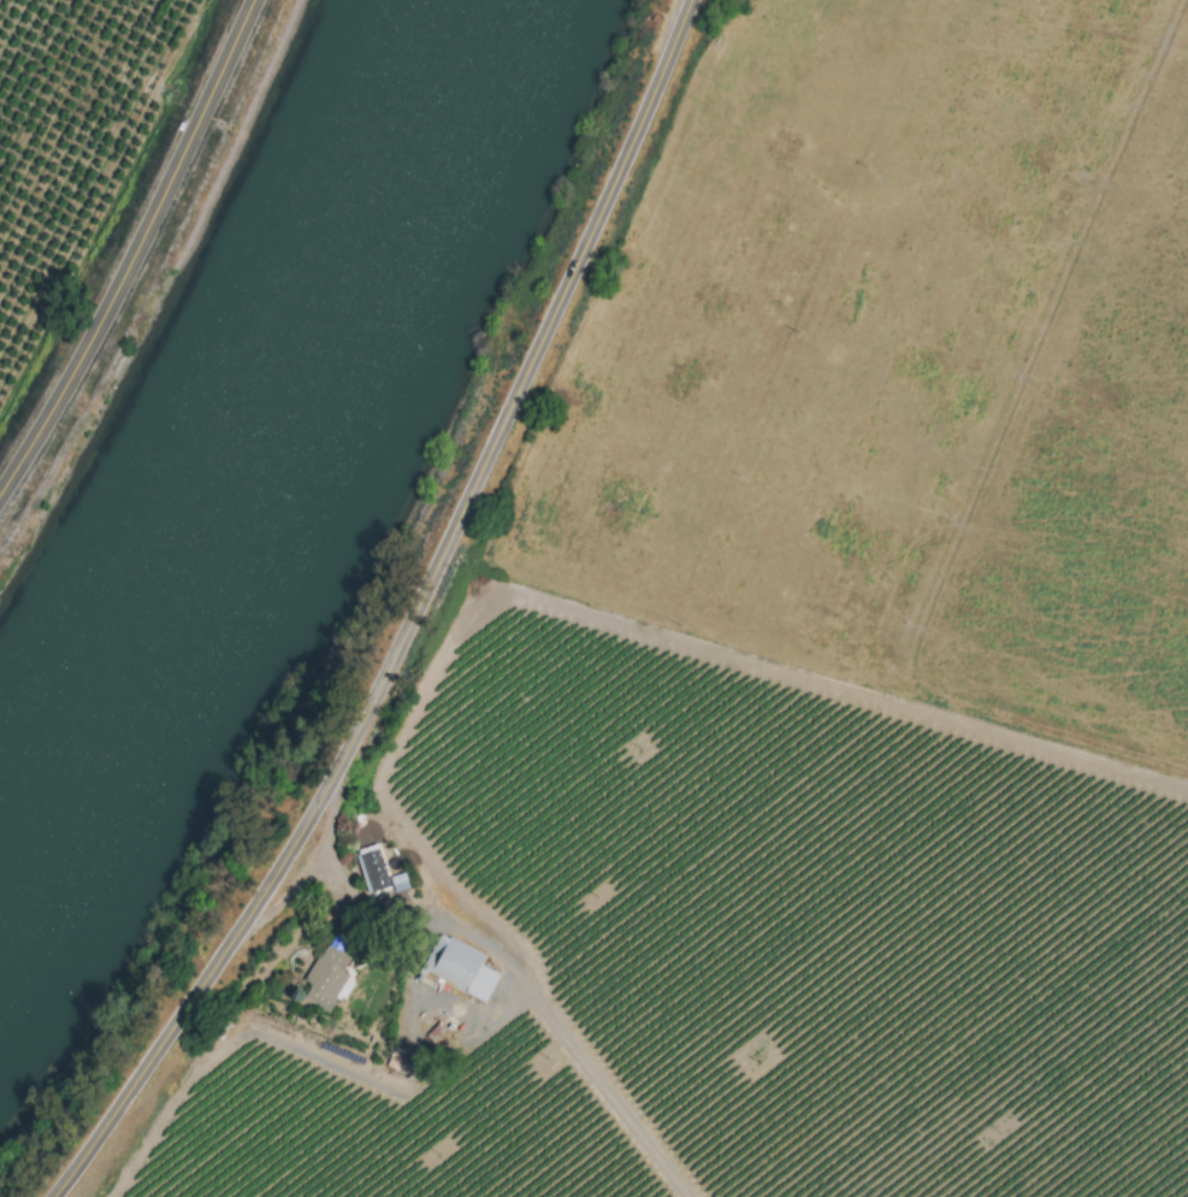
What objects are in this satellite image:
crop: (89, 182)
road: (134, 250)
river: (262, 438)
road: (416, 620)
crop: (762, 680)
road: (326, 835)
building: (367, 872)
road: (386, 900)
building: (460, 967)
building: (327, 978)
road: (607, 1090)

